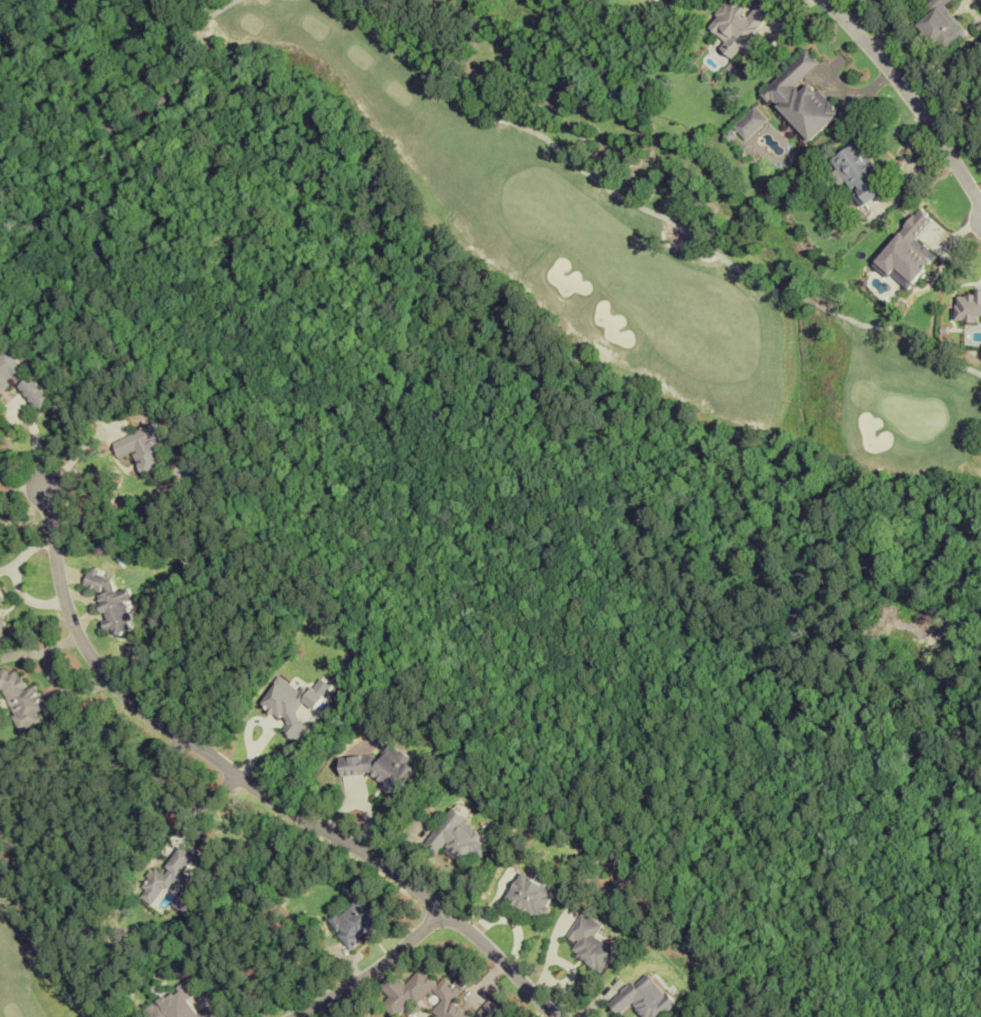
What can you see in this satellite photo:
building: (939, 23)
building: (737, 26)
road: (909, 97)
building: (800, 98)
building: (856, 172)
building: (19, 377)
road: (80, 449)
building: (144, 450)
building: (107, 601)
building: (21, 697)
building: (377, 768)
road: (253, 787)
building: (453, 838)
building: (172, 881)
building: (528, 897)
building: (353, 920)
building: (589, 942)
road: (373, 972)
building: (404, 992)
building: (177, 1004)
building: (489, 1010)

